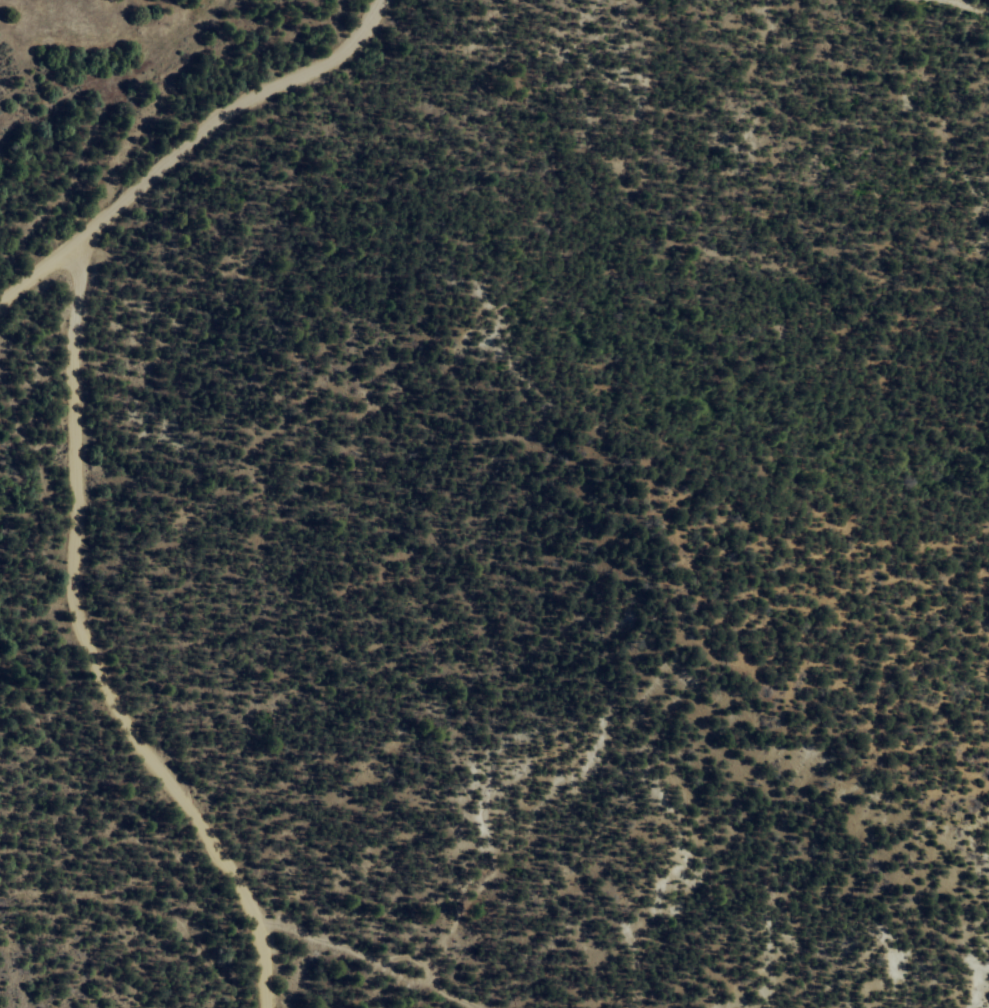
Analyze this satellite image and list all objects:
road: (975, 4)
road: (195, 151)
road: (92, 650)
road: (356, 955)

